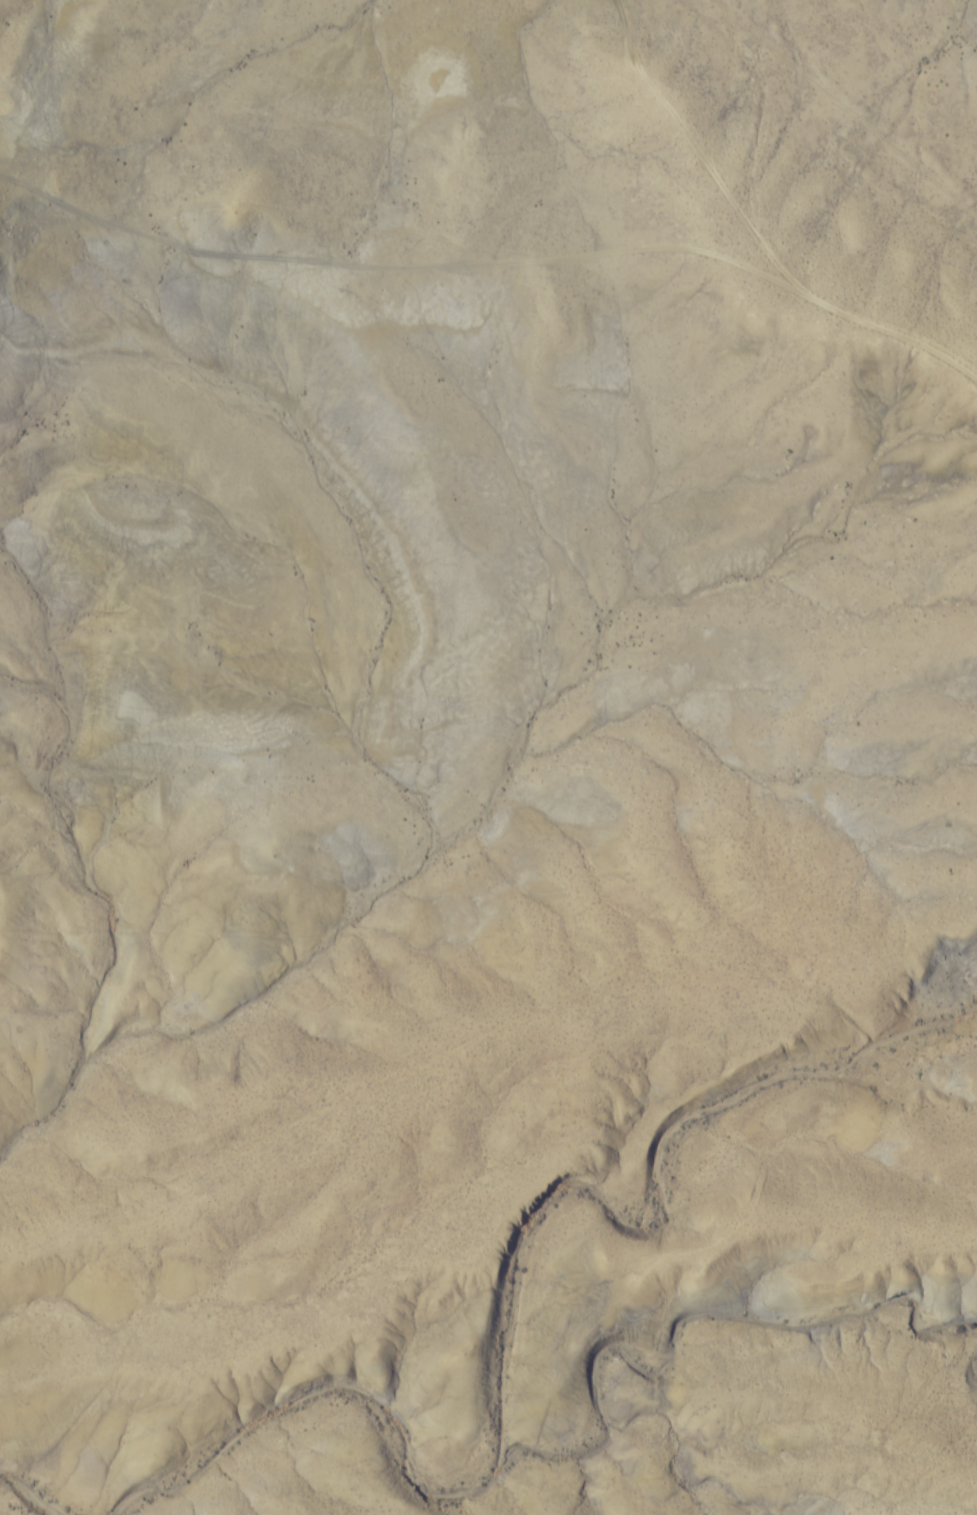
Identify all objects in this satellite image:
road: (703, 160)
road: (409, 232)
road: (900, 335)
road: (466, 1025)

